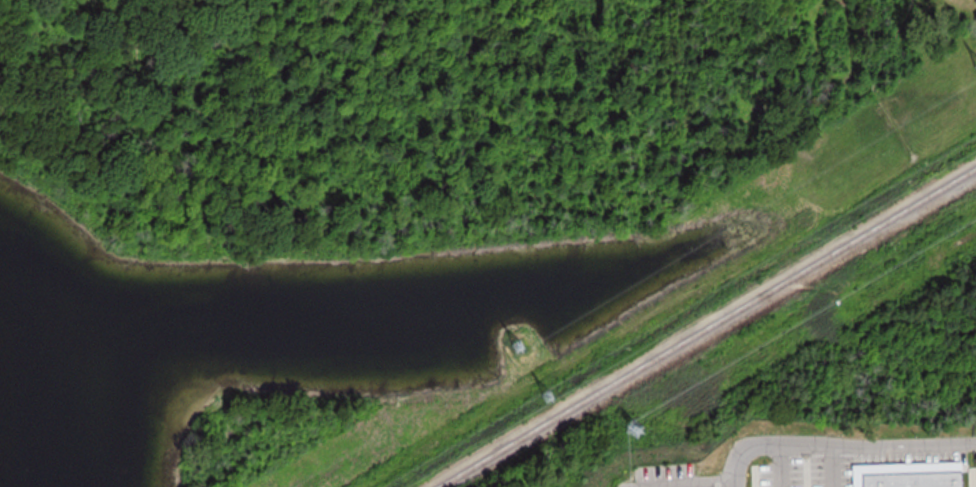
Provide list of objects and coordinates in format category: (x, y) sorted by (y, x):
road: (762, 197)
park: (303, 284)
railway: (711, 329)
road: (533, 346)
power tower: (522, 348)
road: (523, 366)
road: (532, 370)
power tower: (554, 397)
power tower: (638, 429)
road: (841, 453)
building: (914, 485)

